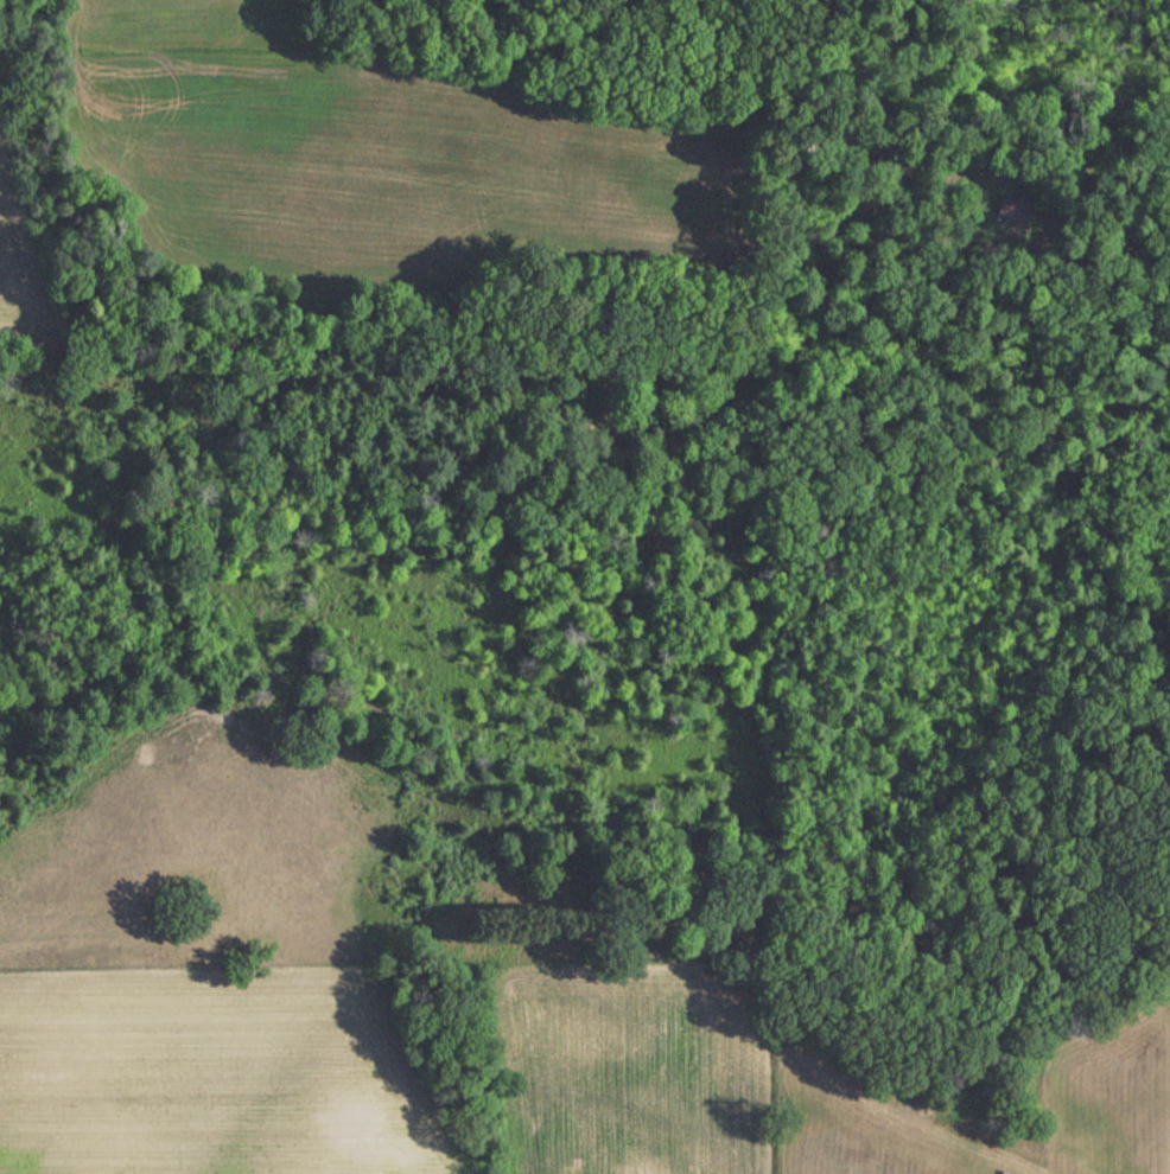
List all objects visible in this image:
road: (883, 344)

